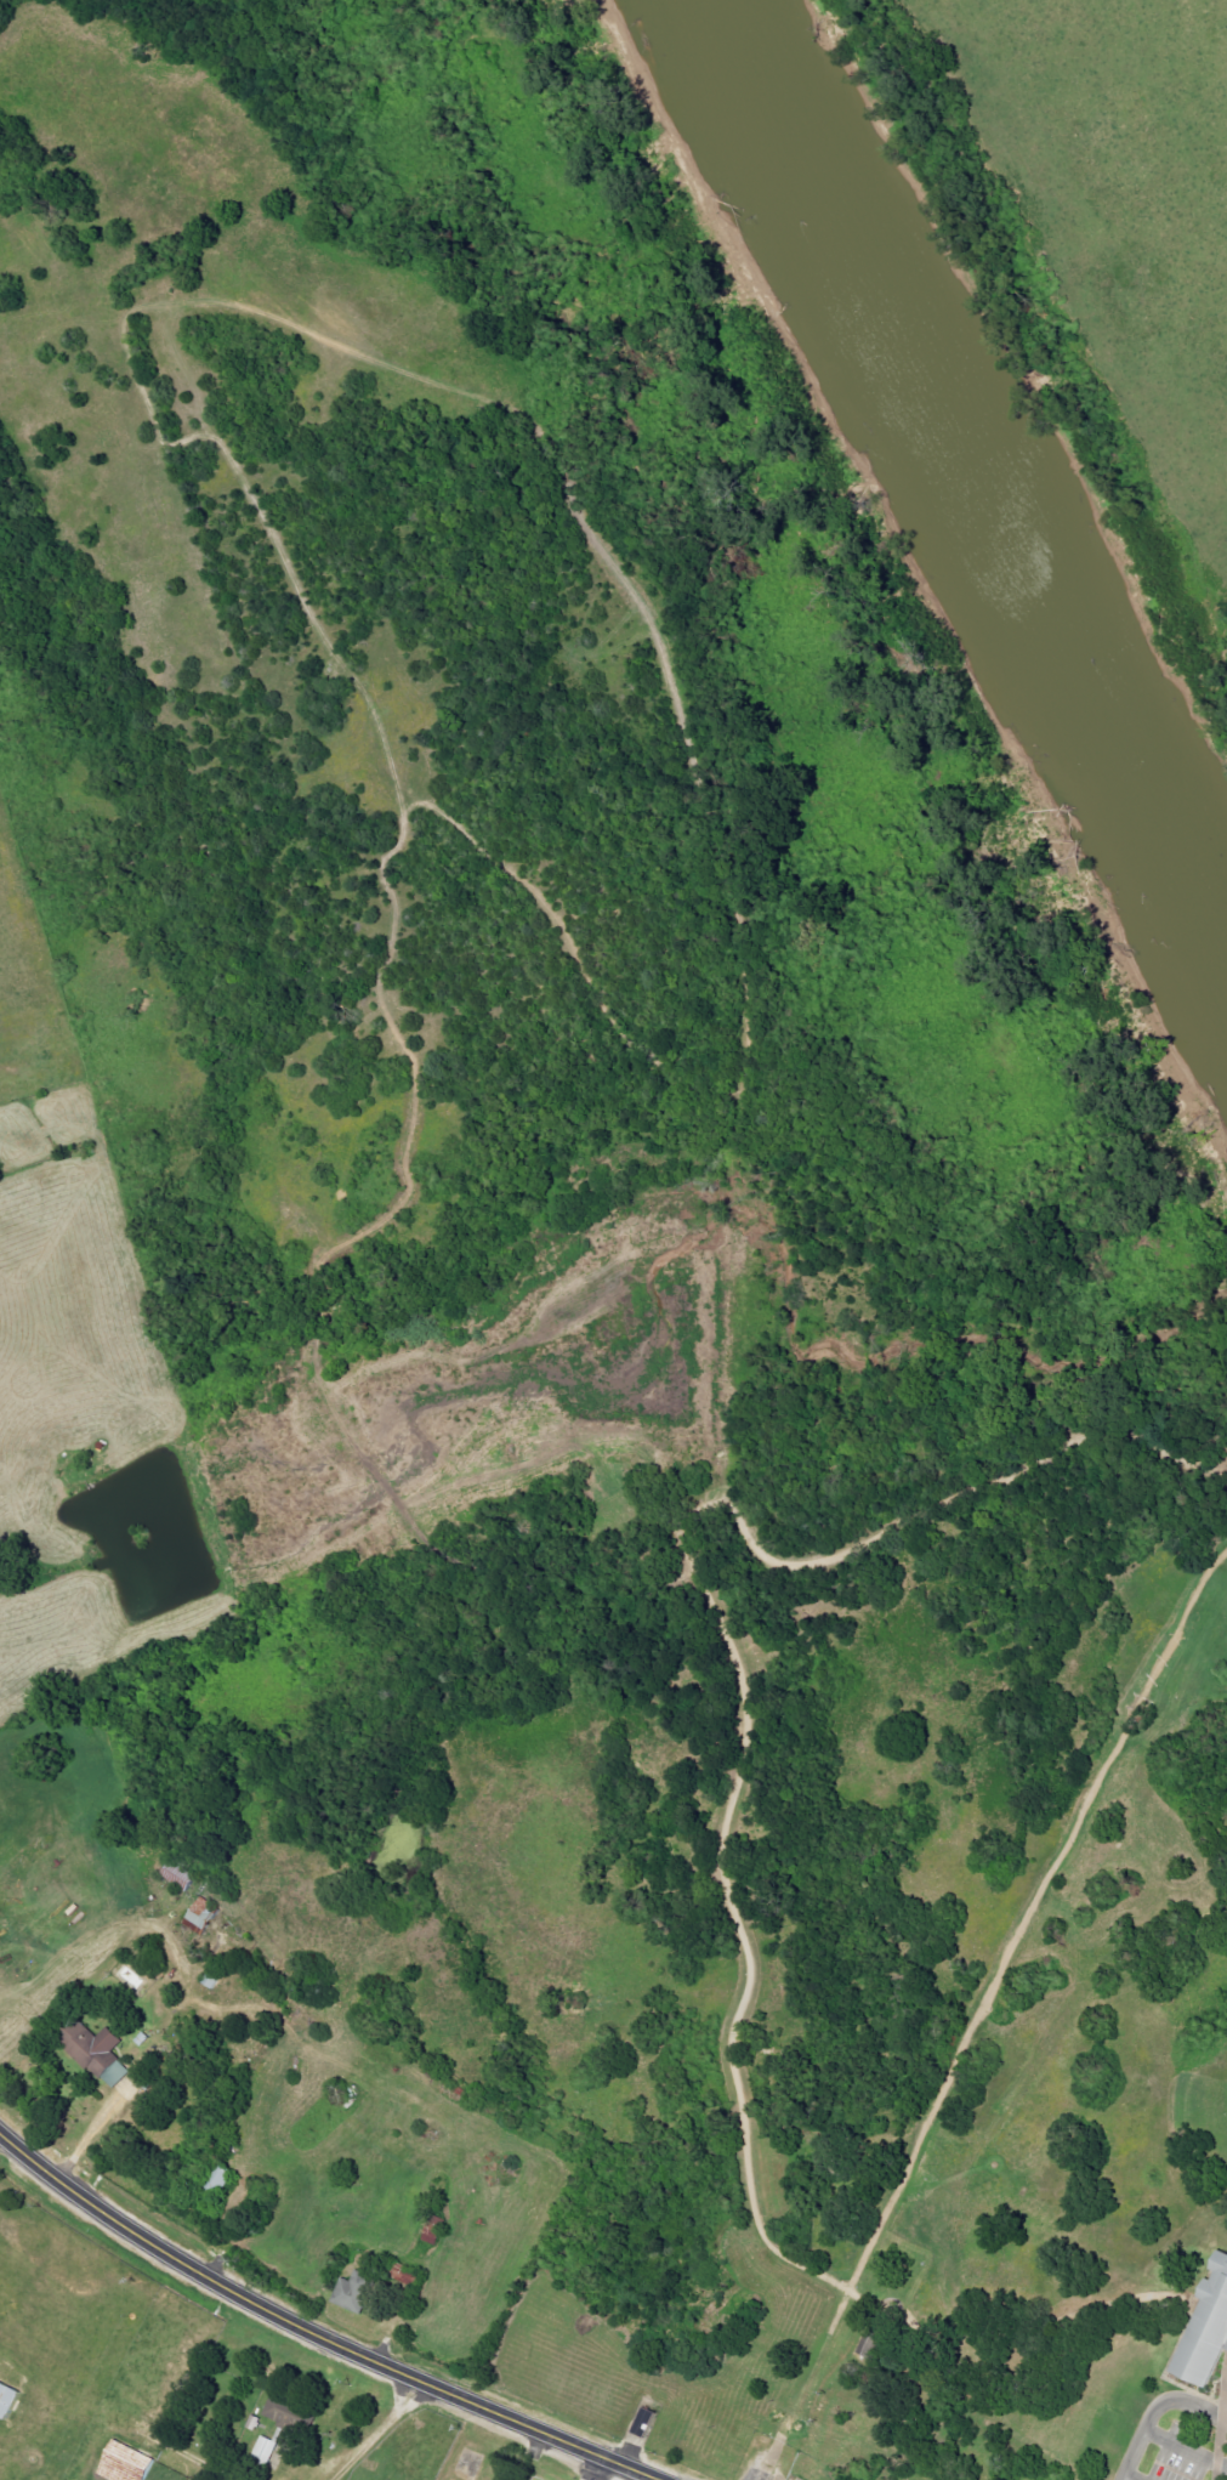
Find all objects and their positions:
road: (167, 294)
river: (972, 422)
park: (629, 1227)
road: (776, 1560)
building: (206, 1914)
road: (981, 2014)
building: (103, 2054)
road: (737, 2068)
road: (101, 2129)
building: (405, 2276)
building: (353, 2291)
building: (1203, 2326)
road: (314, 2331)
building: (865, 2332)
building: (11, 2399)
road: (1153, 2408)
road: (385, 2434)
building: (262, 2451)
road: (1183, 2451)
parking lot: (1170, 2452)
building: (123, 2463)
road: (234, 2478)
road: (1126, 2478)

